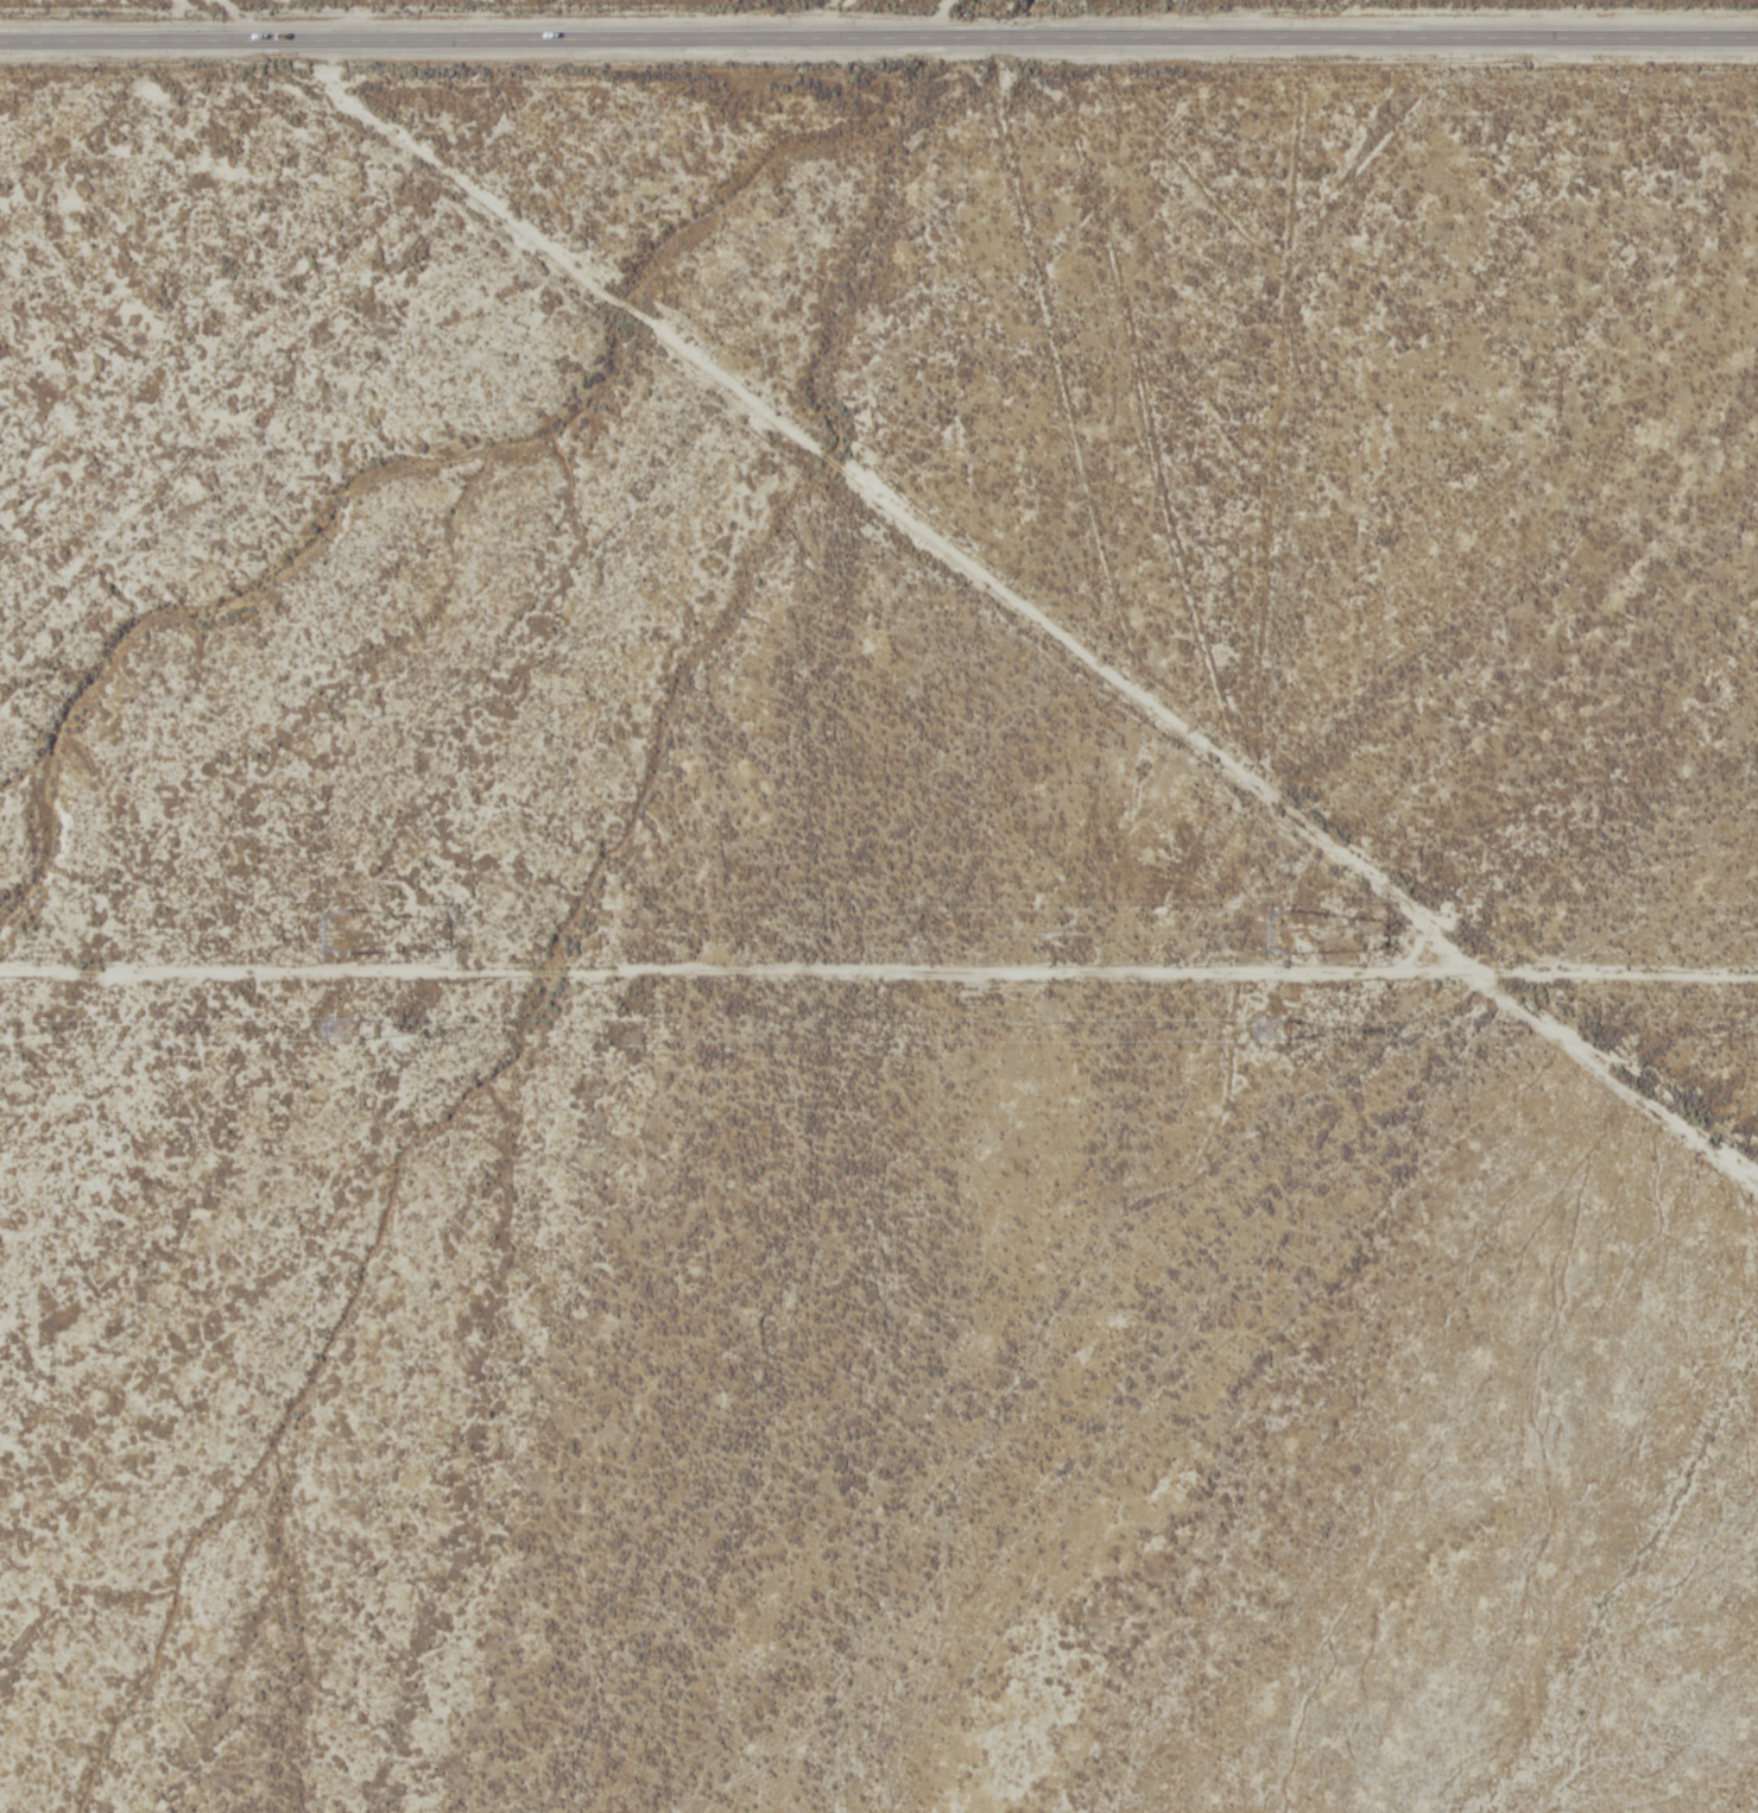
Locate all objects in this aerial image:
road: (812, 20)
road: (878, 39)
power tower: (1288, 940)
power tower: (353, 941)
power tower: (341, 1035)
power tower: (1280, 1035)

